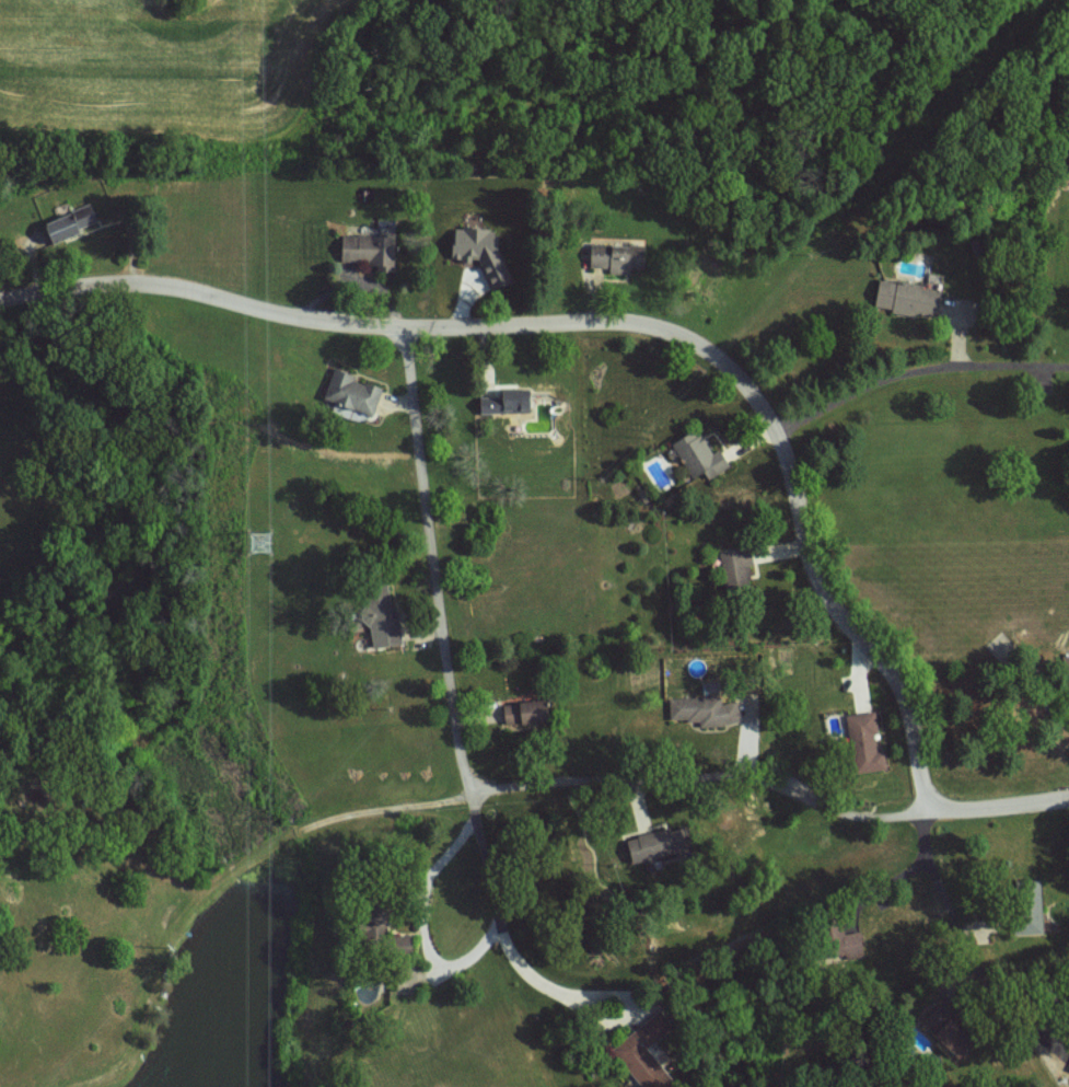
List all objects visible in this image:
building: (74, 220)
building: (485, 252)
building: (618, 257)
building: (909, 298)
road: (617, 321)
road: (915, 370)
building: (353, 392)
building: (508, 401)
building: (700, 455)
power tower: (266, 543)
building: (737, 570)
building: (385, 625)
road: (441, 636)
building: (1067, 664)
building: (705, 709)
building: (527, 712)
building: (865, 742)
road: (441, 799)
road: (996, 803)
building: (659, 843)
road: (420, 921)
road: (971, 952)
road: (562, 992)
building: (956, 1040)
building: (646, 1053)
road: (1, 1086)

